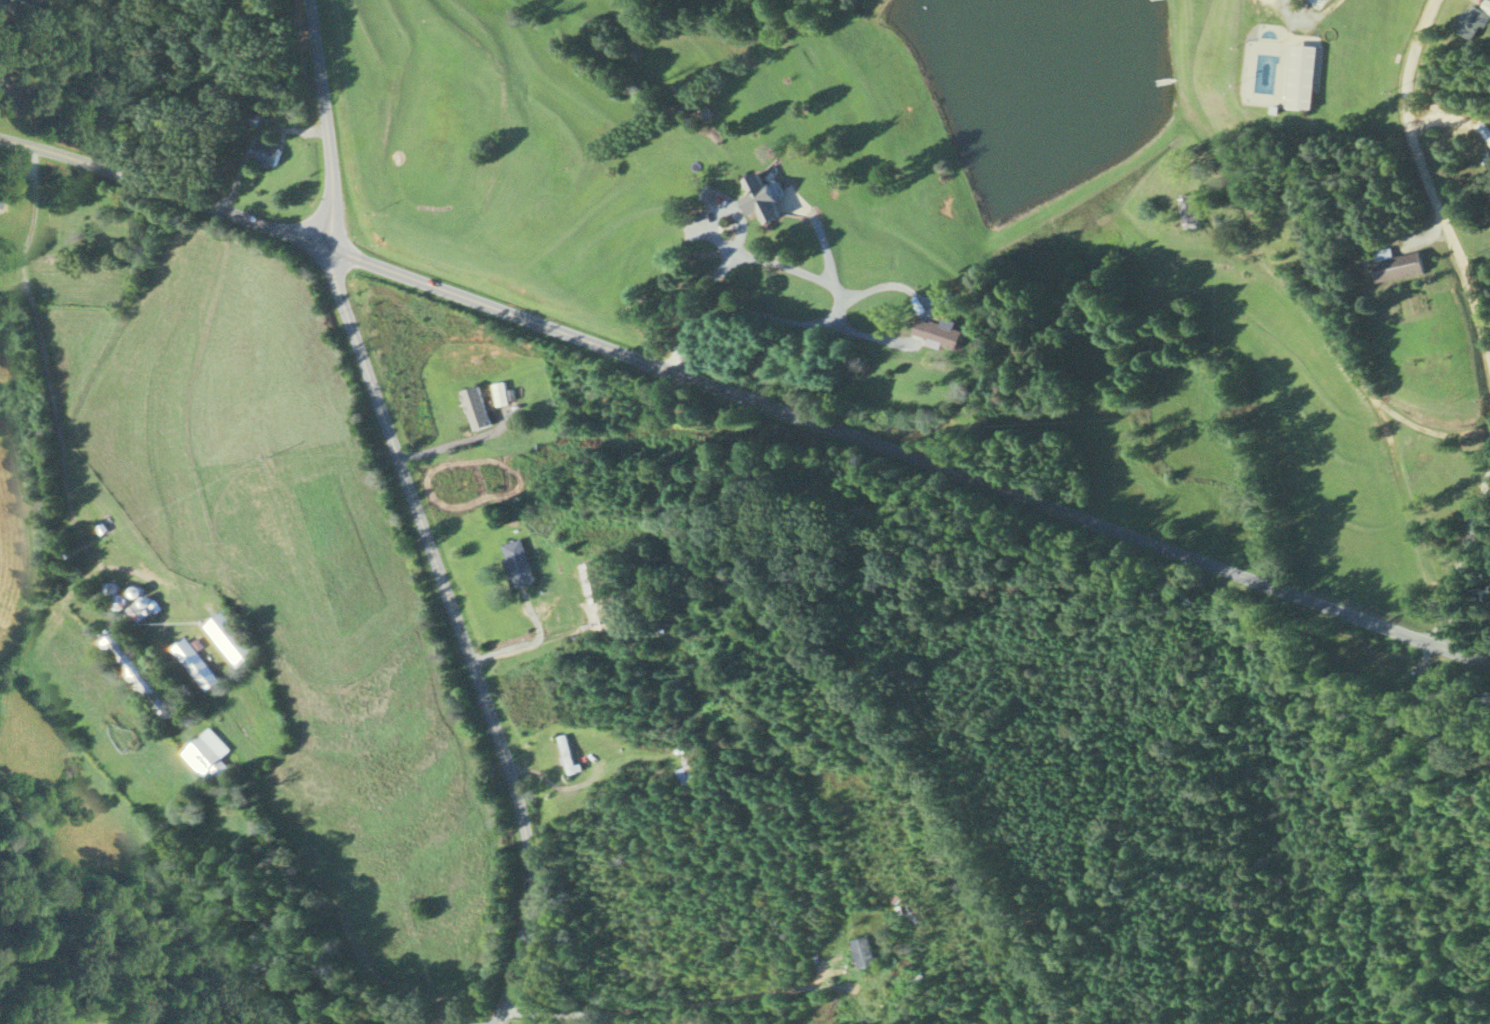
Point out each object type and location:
building: (34, 2)
road: (1308, 15)
building: (1474, 20)
building: (1299, 76)
building: (251, 118)
road: (324, 123)
building: (1483, 131)
building: (264, 152)
road: (1430, 187)
building: (1, 195)
building: (761, 199)
building: (1187, 209)
road: (34, 217)
road: (771, 261)
building: (1396, 263)
building: (940, 332)
building: (499, 393)
road: (745, 400)
building: (475, 407)
road: (1463, 548)
building: (516, 563)
building: (594, 576)
building: (111, 588)
building: (654, 599)
road: (459, 633)
building: (230, 637)
road: (520, 642)
building: (195, 663)
building: (137, 675)
building: (566, 752)
building: (208, 753)
building: (686, 772)
road: (552, 782)
building: (865, 950)
road: (716, 1000)
road: (558, 1013)

